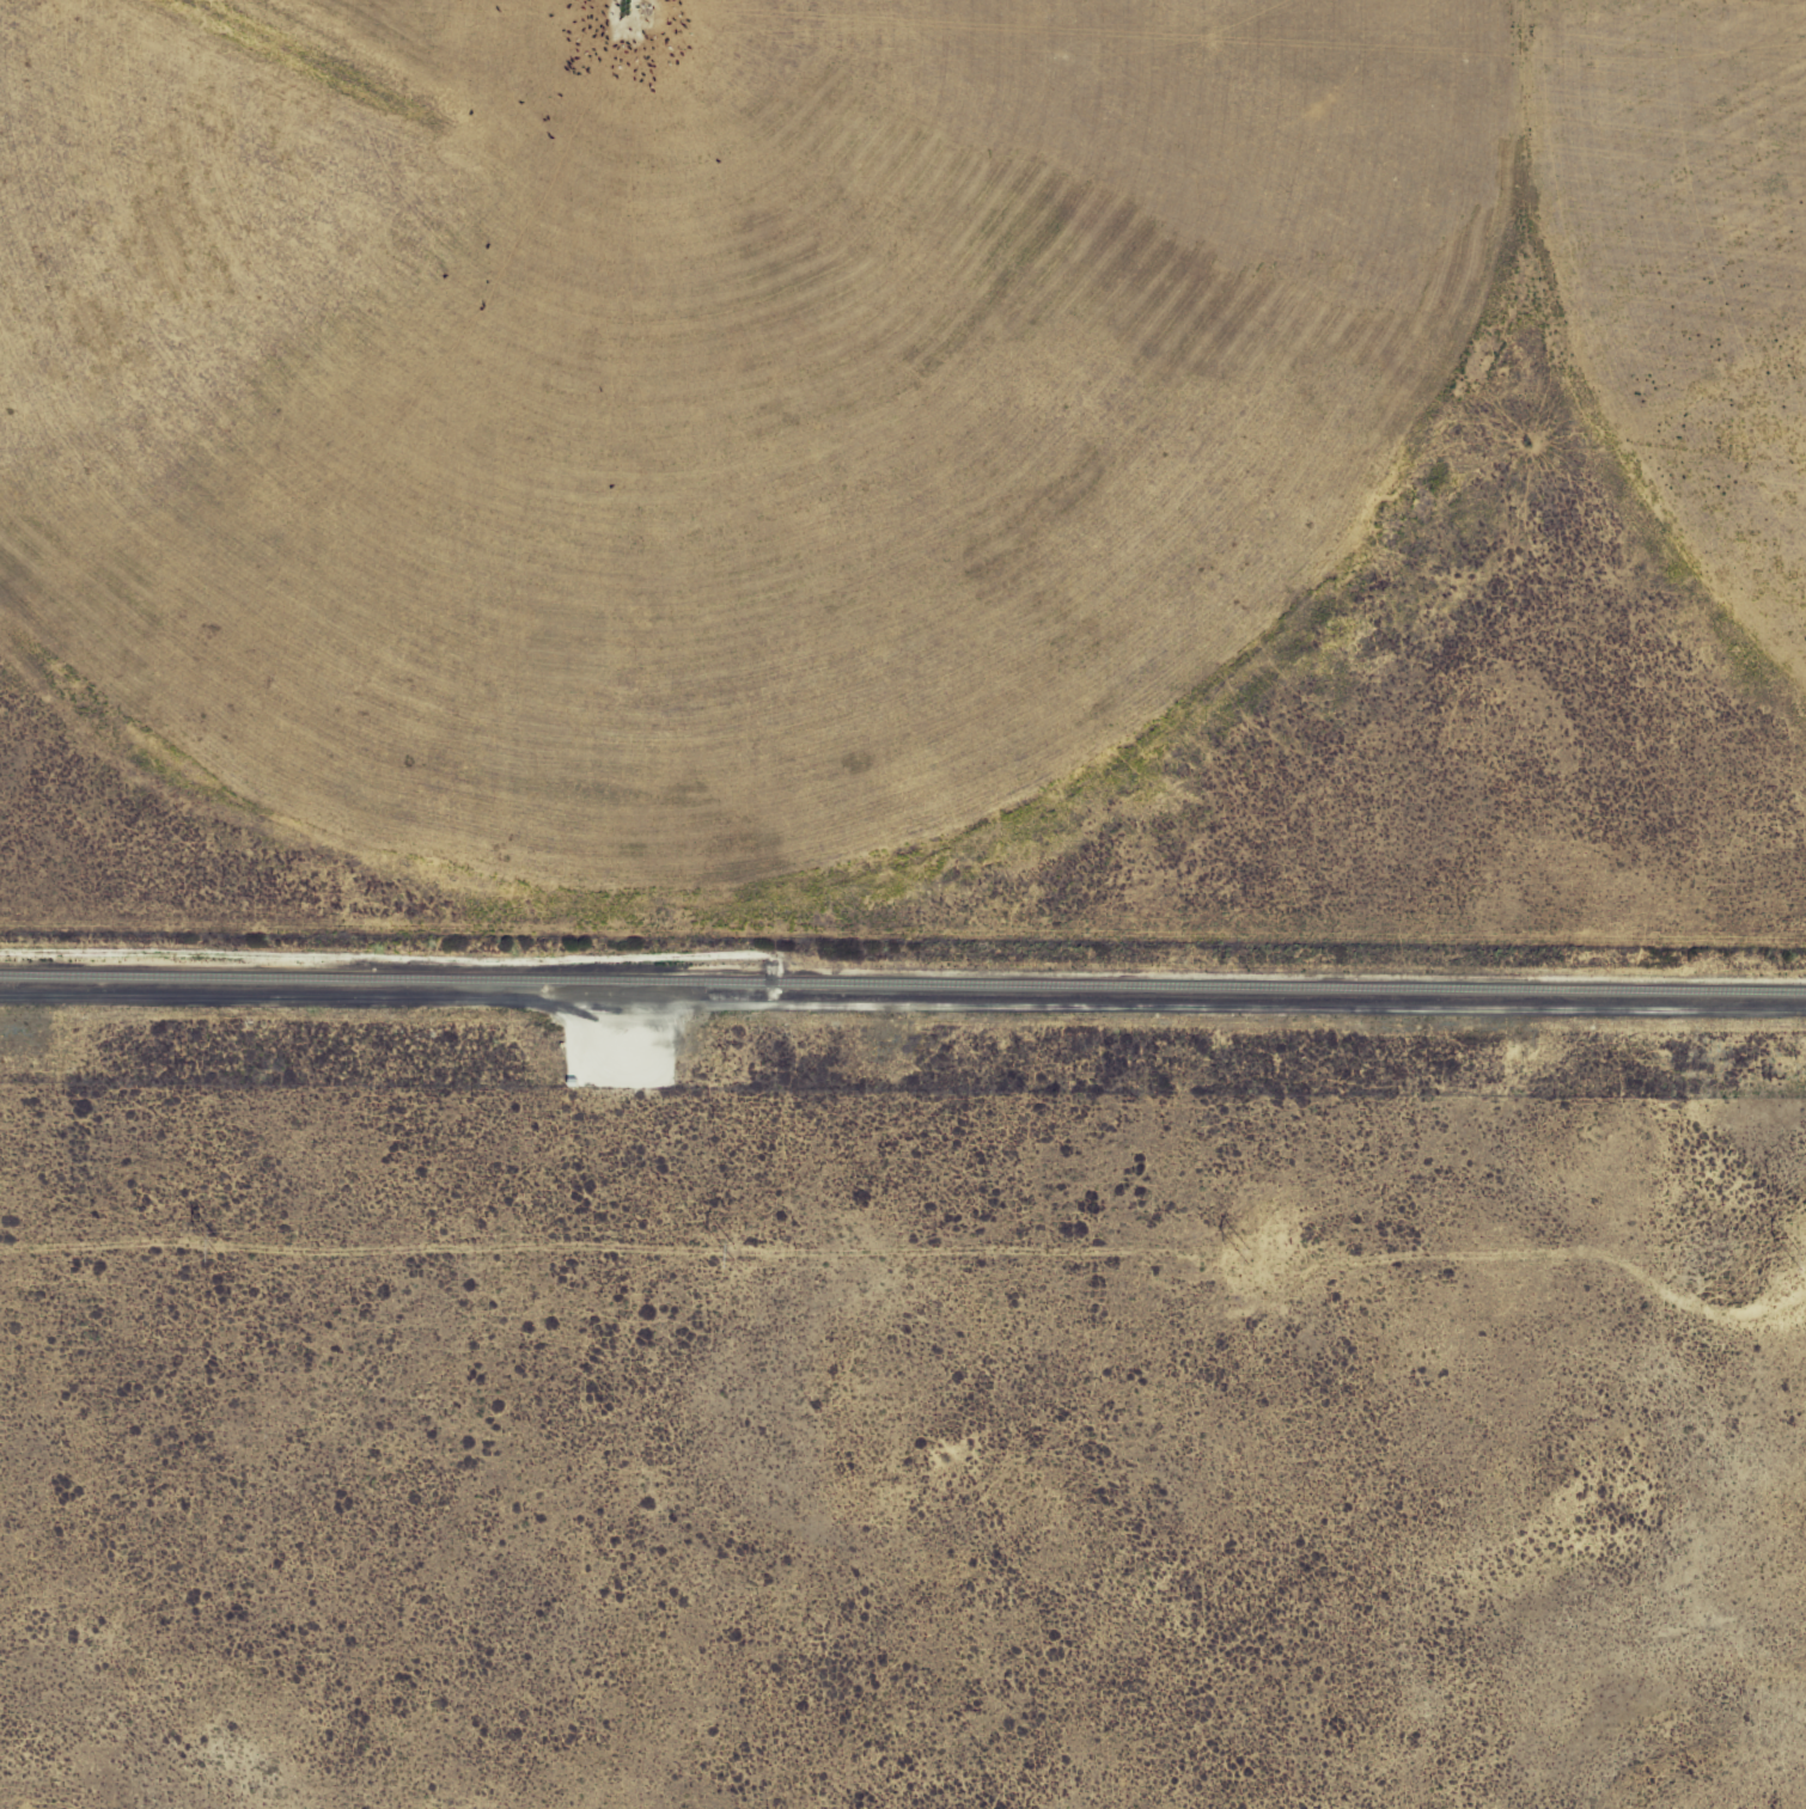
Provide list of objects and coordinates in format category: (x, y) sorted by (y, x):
railway: (903, 983)
power tower: (215, 1245)
power tower: (731, 1251)
power tower: (1799, 1253)
power tower: (1246, 1257)

